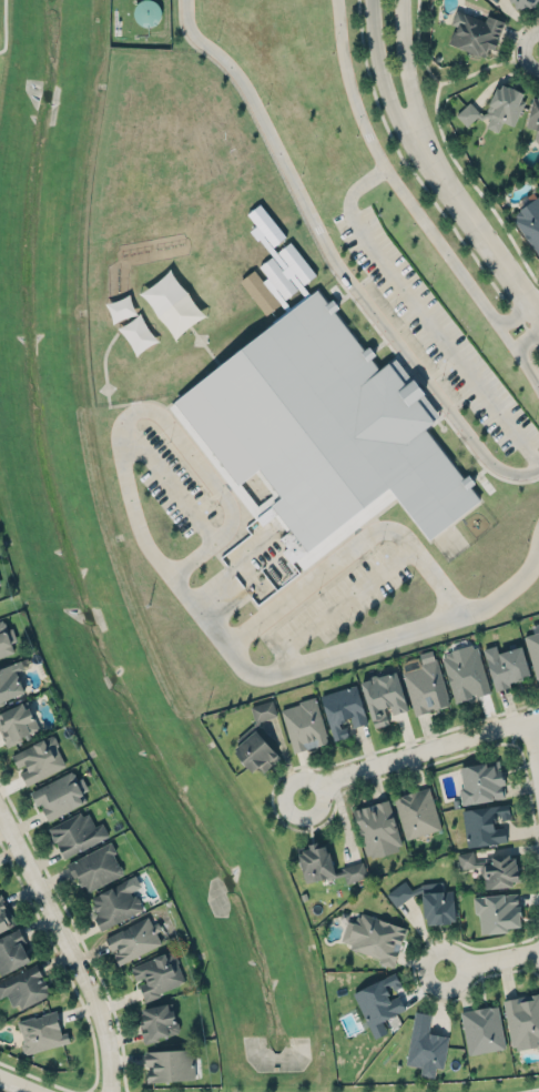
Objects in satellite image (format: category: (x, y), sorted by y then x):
building: (523, 2)
road: (4, 26)
building: (475, 32)
road: (512, 47)
road: (536, 48)
road: (400, 62)
road: (379, 65)
road: (477, 70)
building: (496, 105)
building: (533, 114)
road: (448, 150)
road: (396, 181)
road: (420, 185)
building: (529, 222)
road: (474, 223)
road: (333, 262)
building: (277, 279)
building: (172, 303)
road: (536, 310)
road: (423, 311)
road: (522, 353)
road: (160, 414)
building: (322, 434)
road: (352, 548)
building: (0, 582)
road: (337, 604)
building: (6, 639)
building: (533, 647)
road: (352, 648)
building: (506, 665)
building: (466, 671)
building: (10, 679)
building: (426, 686)
building: (383, 696)
building: (263, 710)
building: (343, 710)
building: (17, 724)
building: (304, 724)
road: (535, 741)
building: (256, 752)
road: (418, 752)
building: (39, 759)
building: (481, 781)
building: (60, 793)
building: (417, 812)
building: (485, 825)
road: (307, 827)
building: (377, 828)
building: (75, 832)
building: (326, 866)
building: (95, 867)
building: (492, 868)
building: (401, 892)
building: (115, 903)
building: (437, 903)
building: (497, 912)
building: (4, 916)
road: (75, 930)
building: (375, 936)
building: (132, 938)
road: (69, 948)
building: (12, 951)
road: (490, 964)
road: (414, 971)
building: (157, 974)
building: (23, 985)
building: (378, 1002)
road: (82, 1004)
building: (522, 1020)
building: (157, 1022)
building: (482, 1029)
building: (40, 1031)
building: (426, 1045)
building: (171, 1064)
road: (17, 1084)
road: (527, 1090)
road: (0, 1091)

